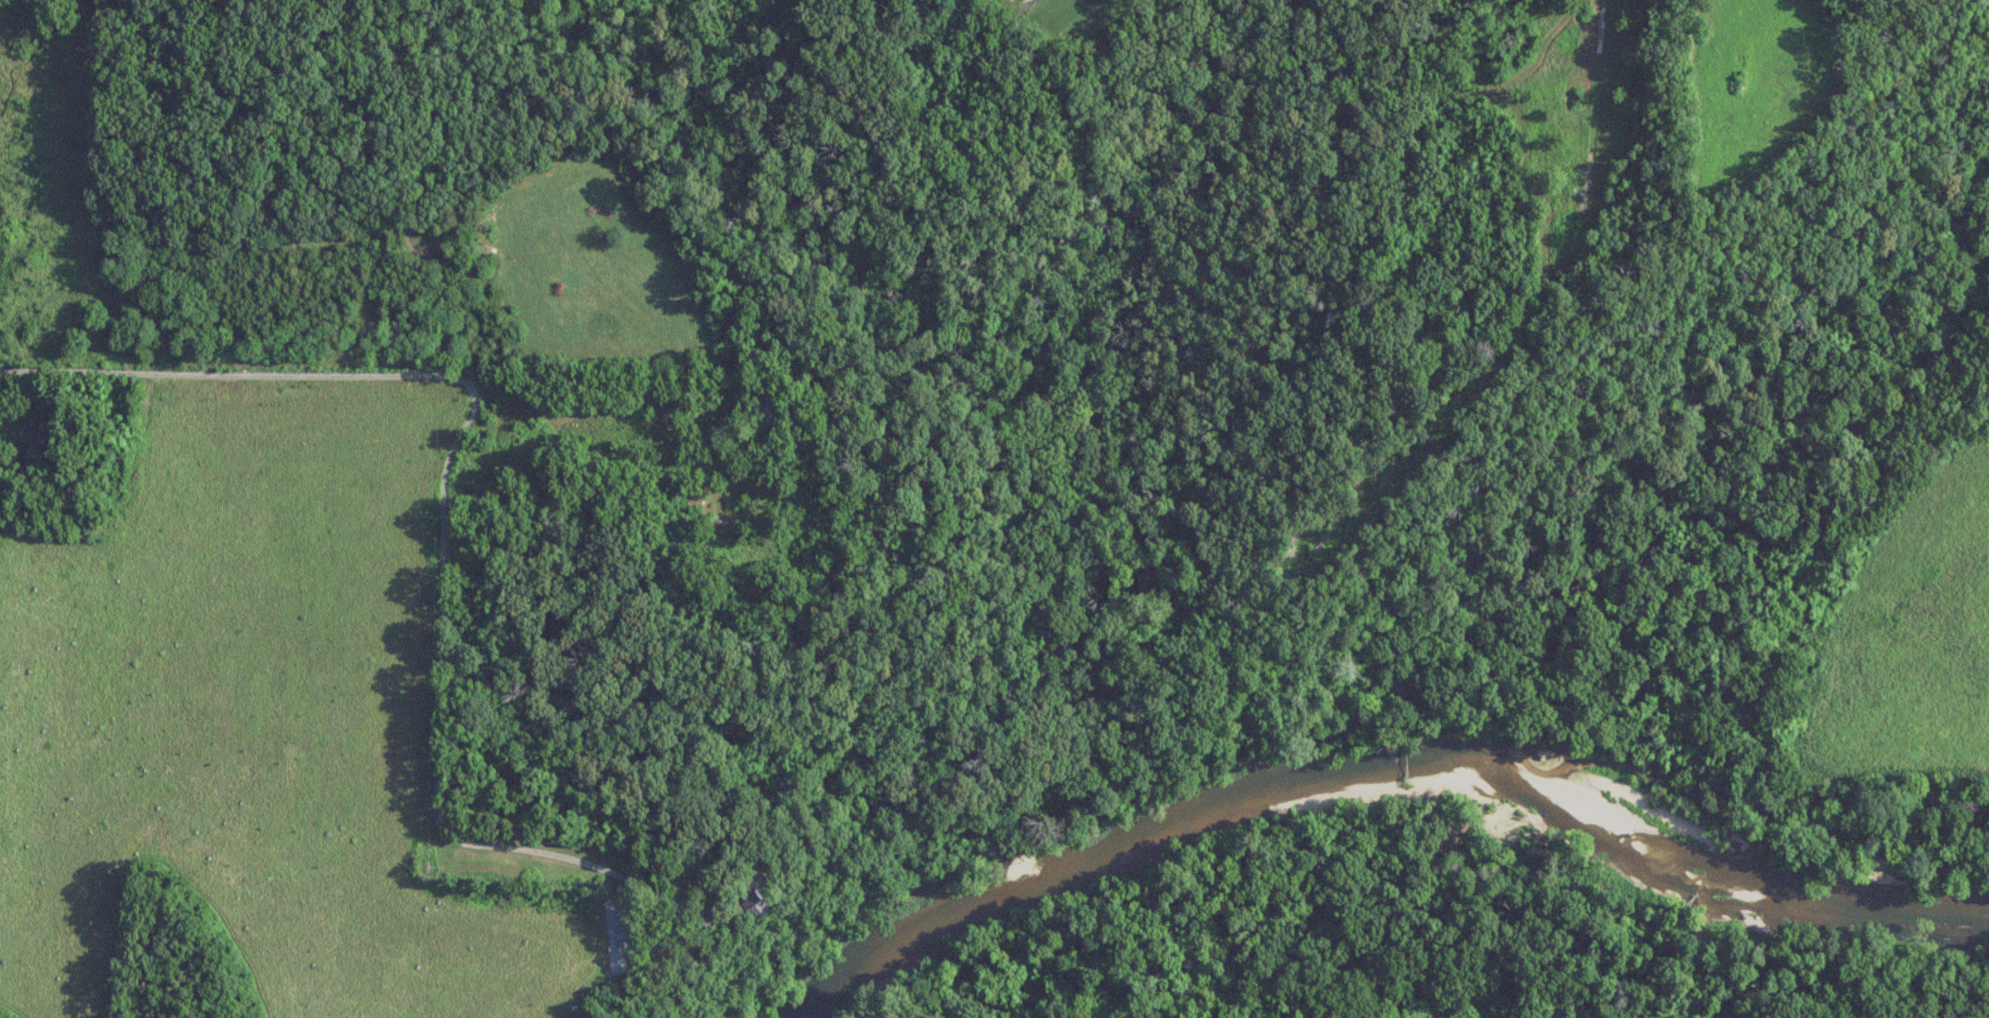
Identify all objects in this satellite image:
road: (235, 373)
building: (51, 410)
building: (767, 417)
road: (605, 478)
crop: (1907, 636)
road: (436, 728)
river: (1390, 766)
building: (753, 890)

